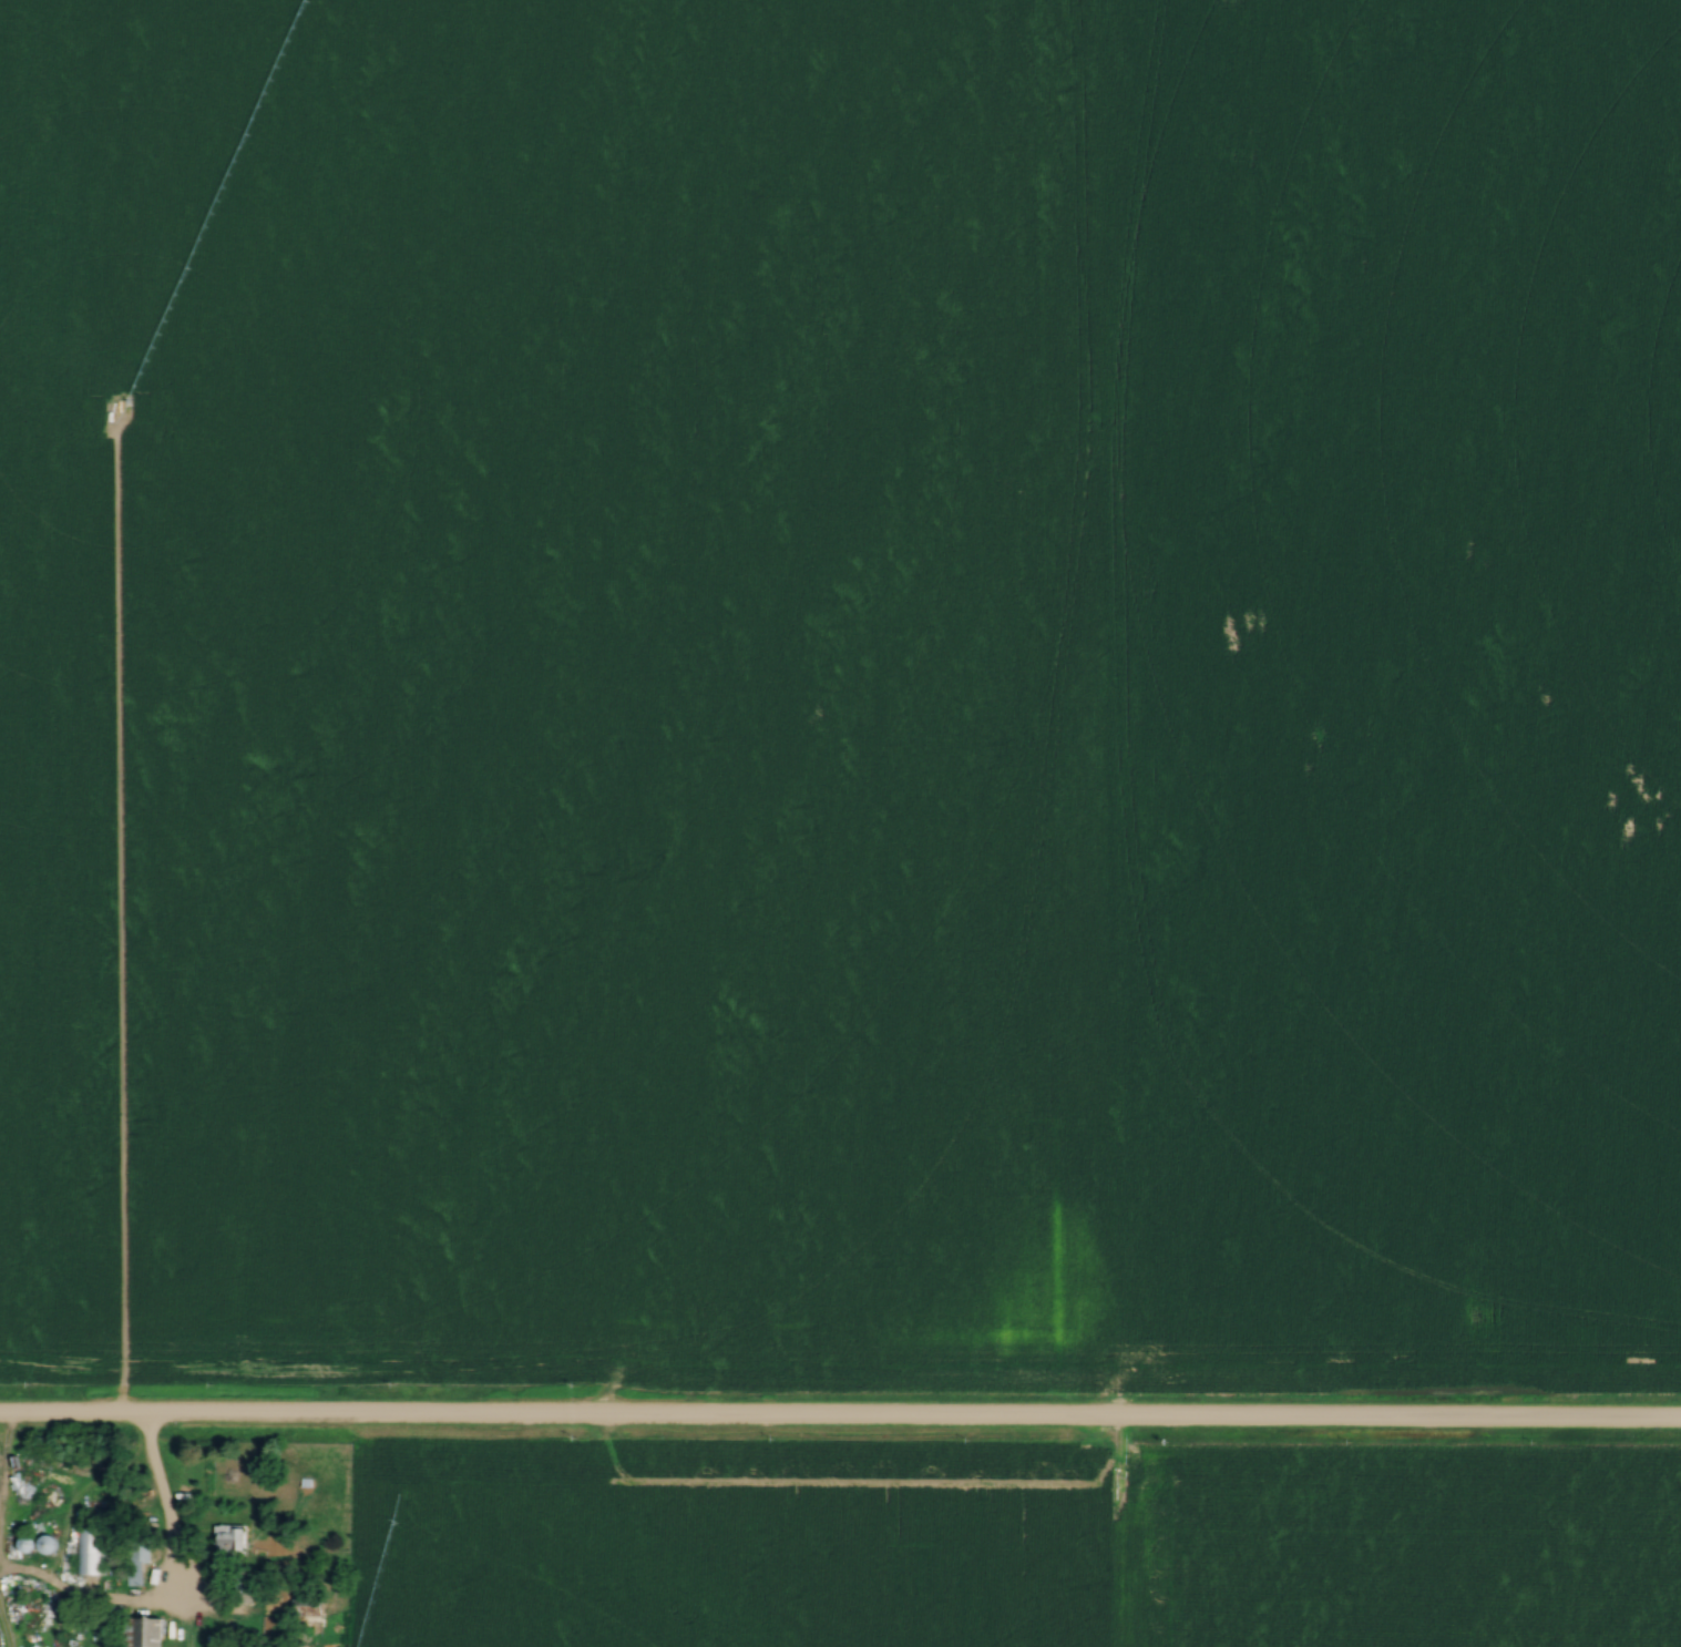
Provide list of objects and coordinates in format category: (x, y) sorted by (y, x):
road: (840, 1424)
building: (53, 1494)
road: (160, 1520)
building: (232, 1541)
building: (91, 1552)
building: (310, 1616)
building: (141, 1631)

